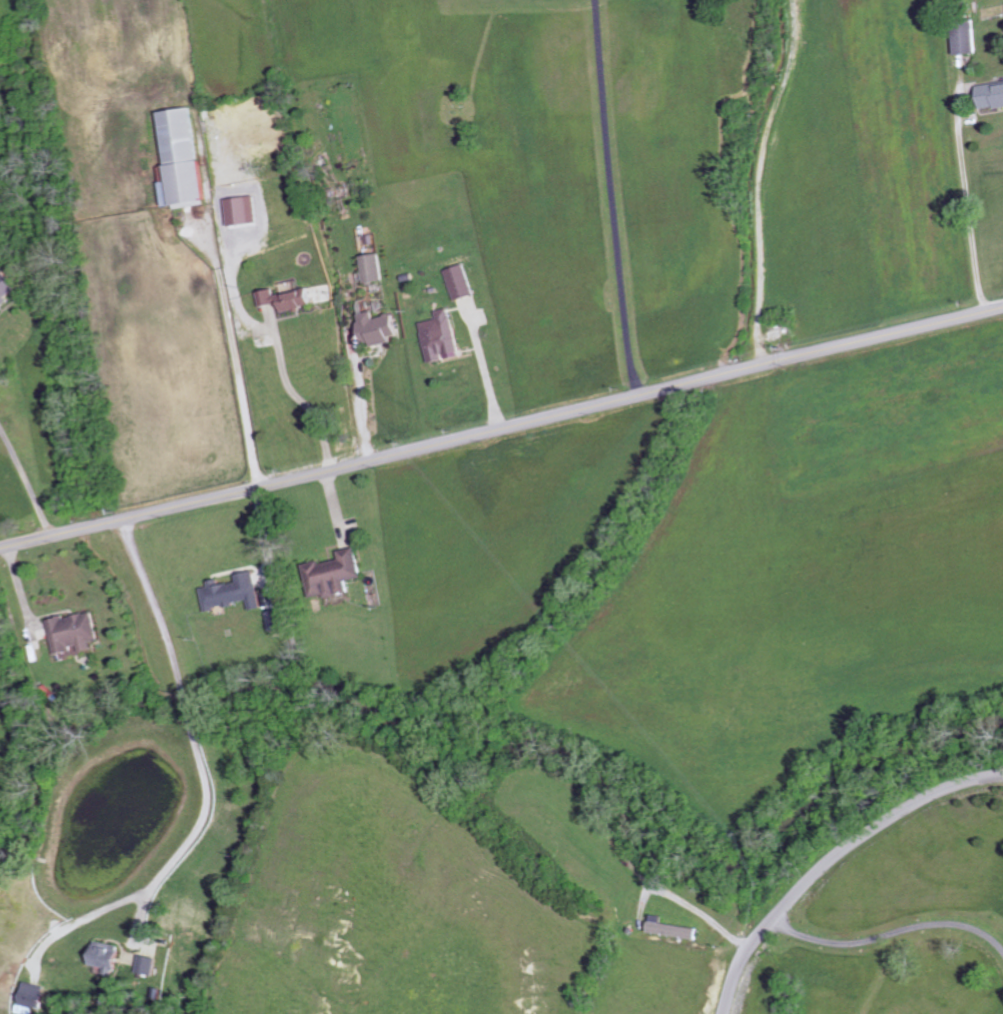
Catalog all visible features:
building: (967, 41)
building: (992, 95)
park: (464, 116)
building: (185, 159)
road: (750, 181)
road: (611, 198)
building: (245, 210)
building: (374, 268)
building: (461, 282)
building: (8, 287)
building: (289, 299)
building: (380, 328)
building: (443, 337)
road: (501, 429)
road: (12, 520)
building: (335, 574)
building: (235, 593)
building: (277, 621)
building: (76, 633)
road: (832, 861)
building: (670, 929)
building: (107, 957)
building: (146, 965)
building: (33, 995)

